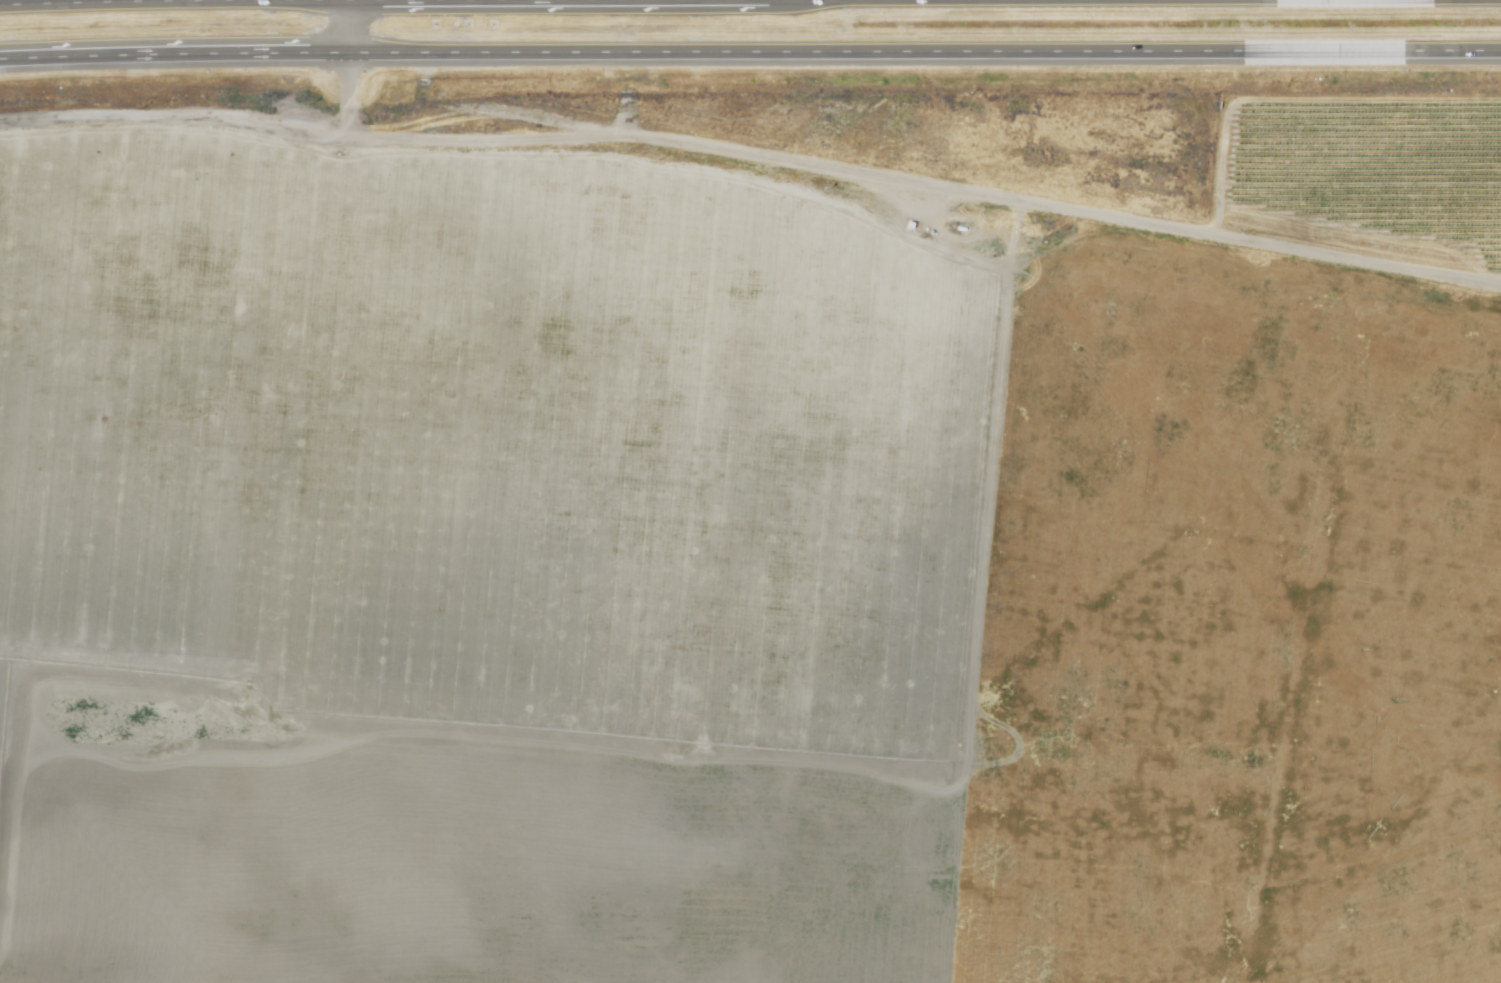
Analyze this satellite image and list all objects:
road: (173, 0)
road: (349, 23)
road: (750, 49)
road: (344, 84)
road: (754, 152)
crop: (719, 592)

